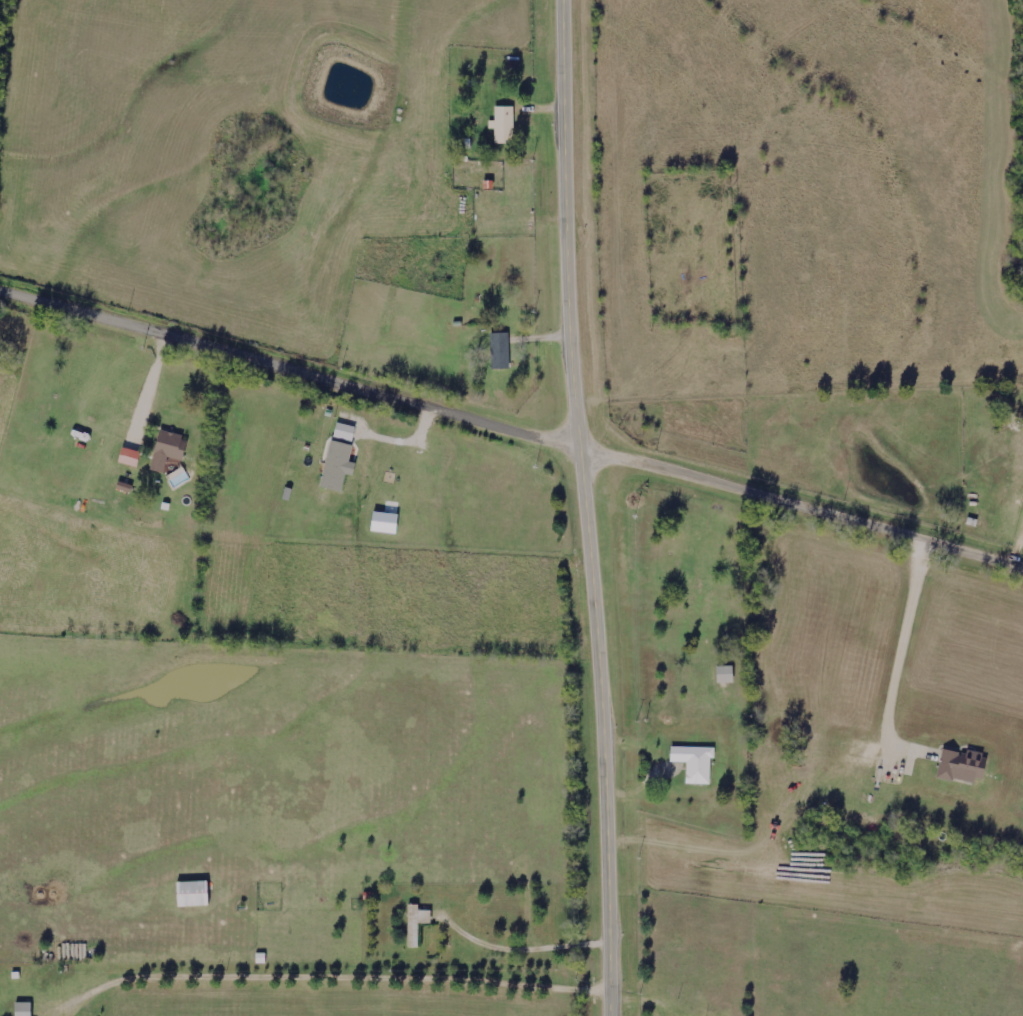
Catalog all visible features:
building: (503, 124)
building: (500, 350)
road: (289, 369)
building: (344, 431)
building: (167, 449)
building: (337, 466)
road: (801, 506)
road: (582, 508)
building: (725, 674)
building: (694, 762)
building: (962, 765)
building: (192, 893)
building: (416, 923)
road: (519, 950)
road: (337, 977)
building: (23, 1009)

